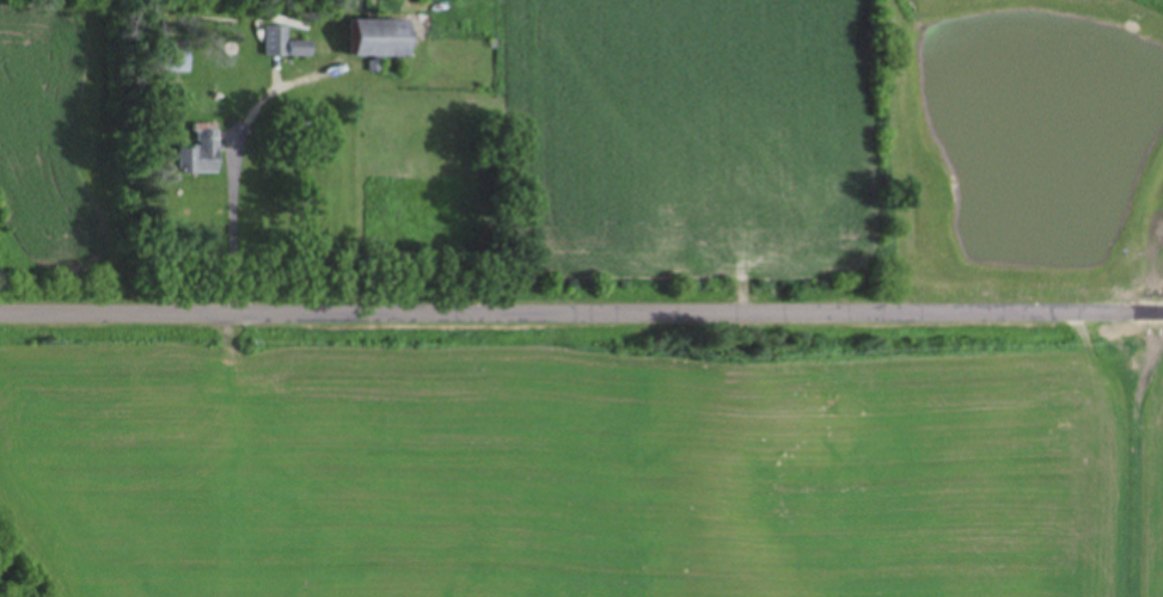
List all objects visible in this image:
building: (390, 39)
building: (274, 41)
building: (201, 150)
road: (227, 220)
road: (581, 303)

